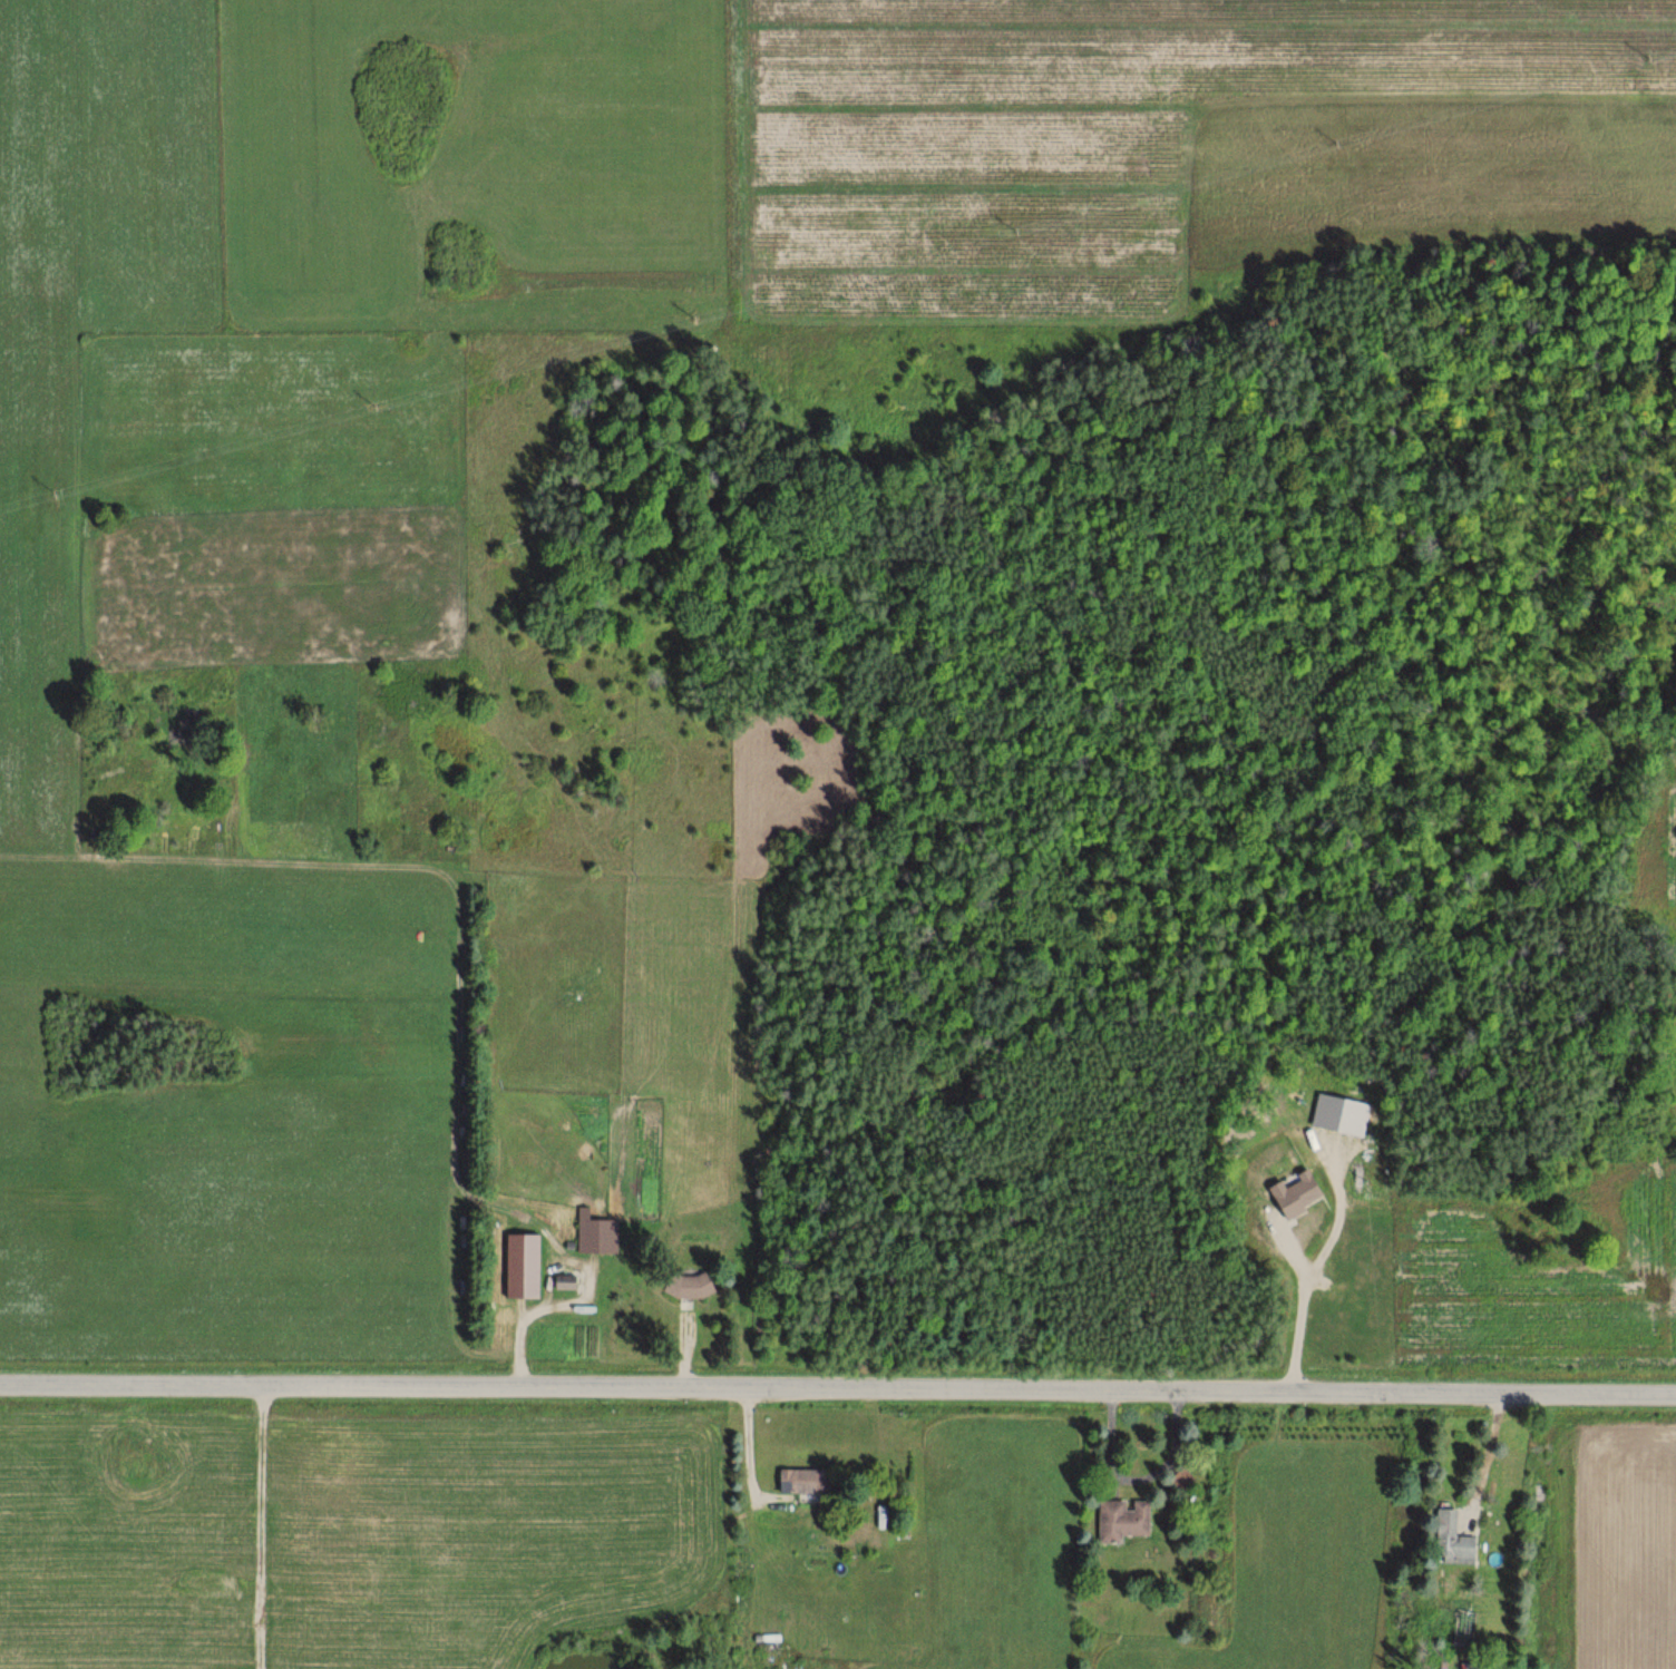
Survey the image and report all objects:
building: (595, 1232)
building: (565, 1280)
building: (690, 1287)
road: (838, 1384)
building: (805, 1480)
building: (1182, 1480)
building: (894, 1493)
building: (1122, 1519)
building: (1452, 1536)

